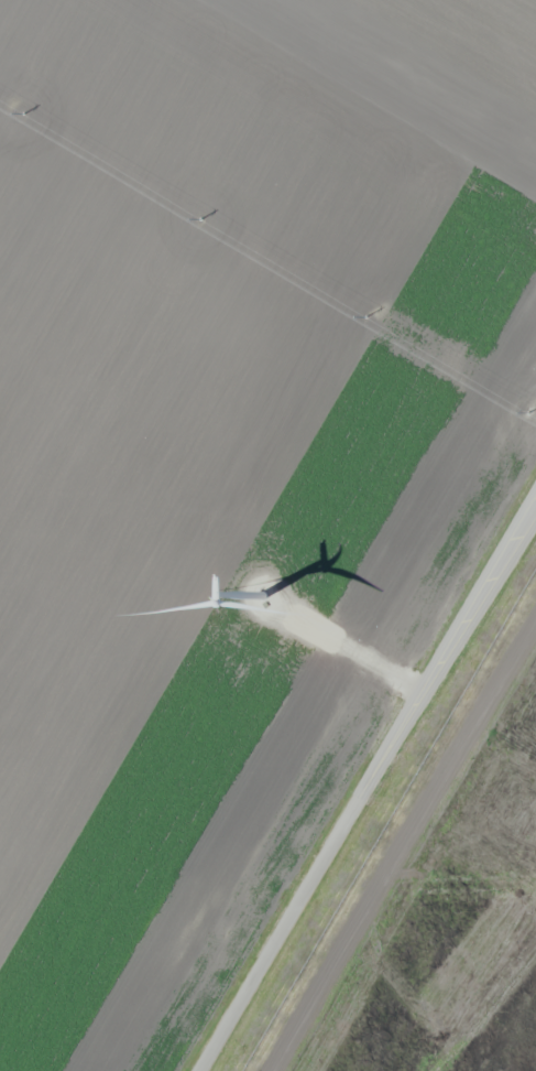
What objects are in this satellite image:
wind turbine: (249, 596)
road: (347, 648)
road: (368, 783)

